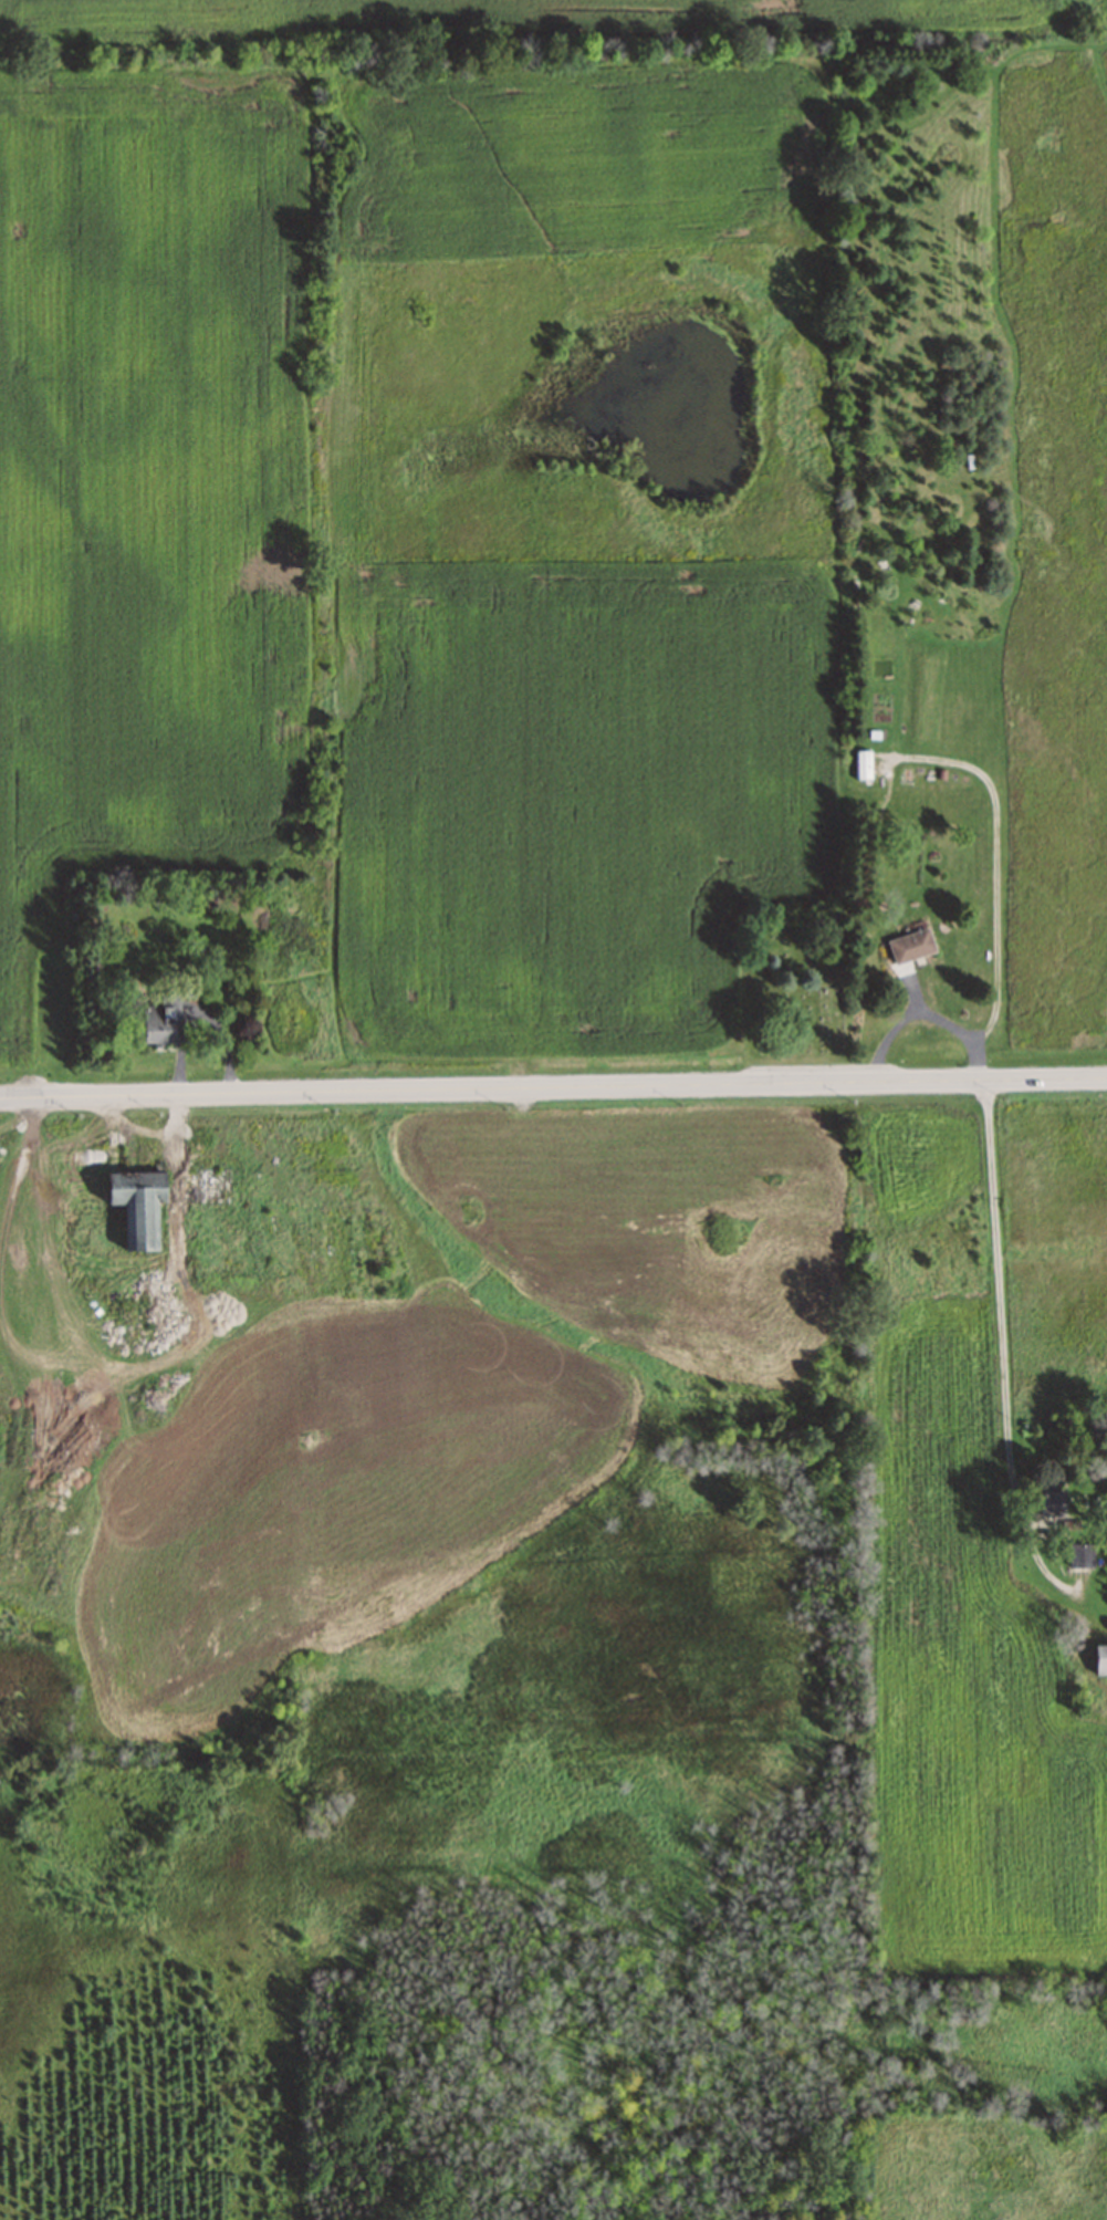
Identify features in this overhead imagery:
building: (863, 764)
building: (910, 946)
building: (157, 1023)
road: (553, 1087)
building: (136, 1205)
road: (1002, 1347)
building: (1048, 1503)
building: (1100, 1659)

